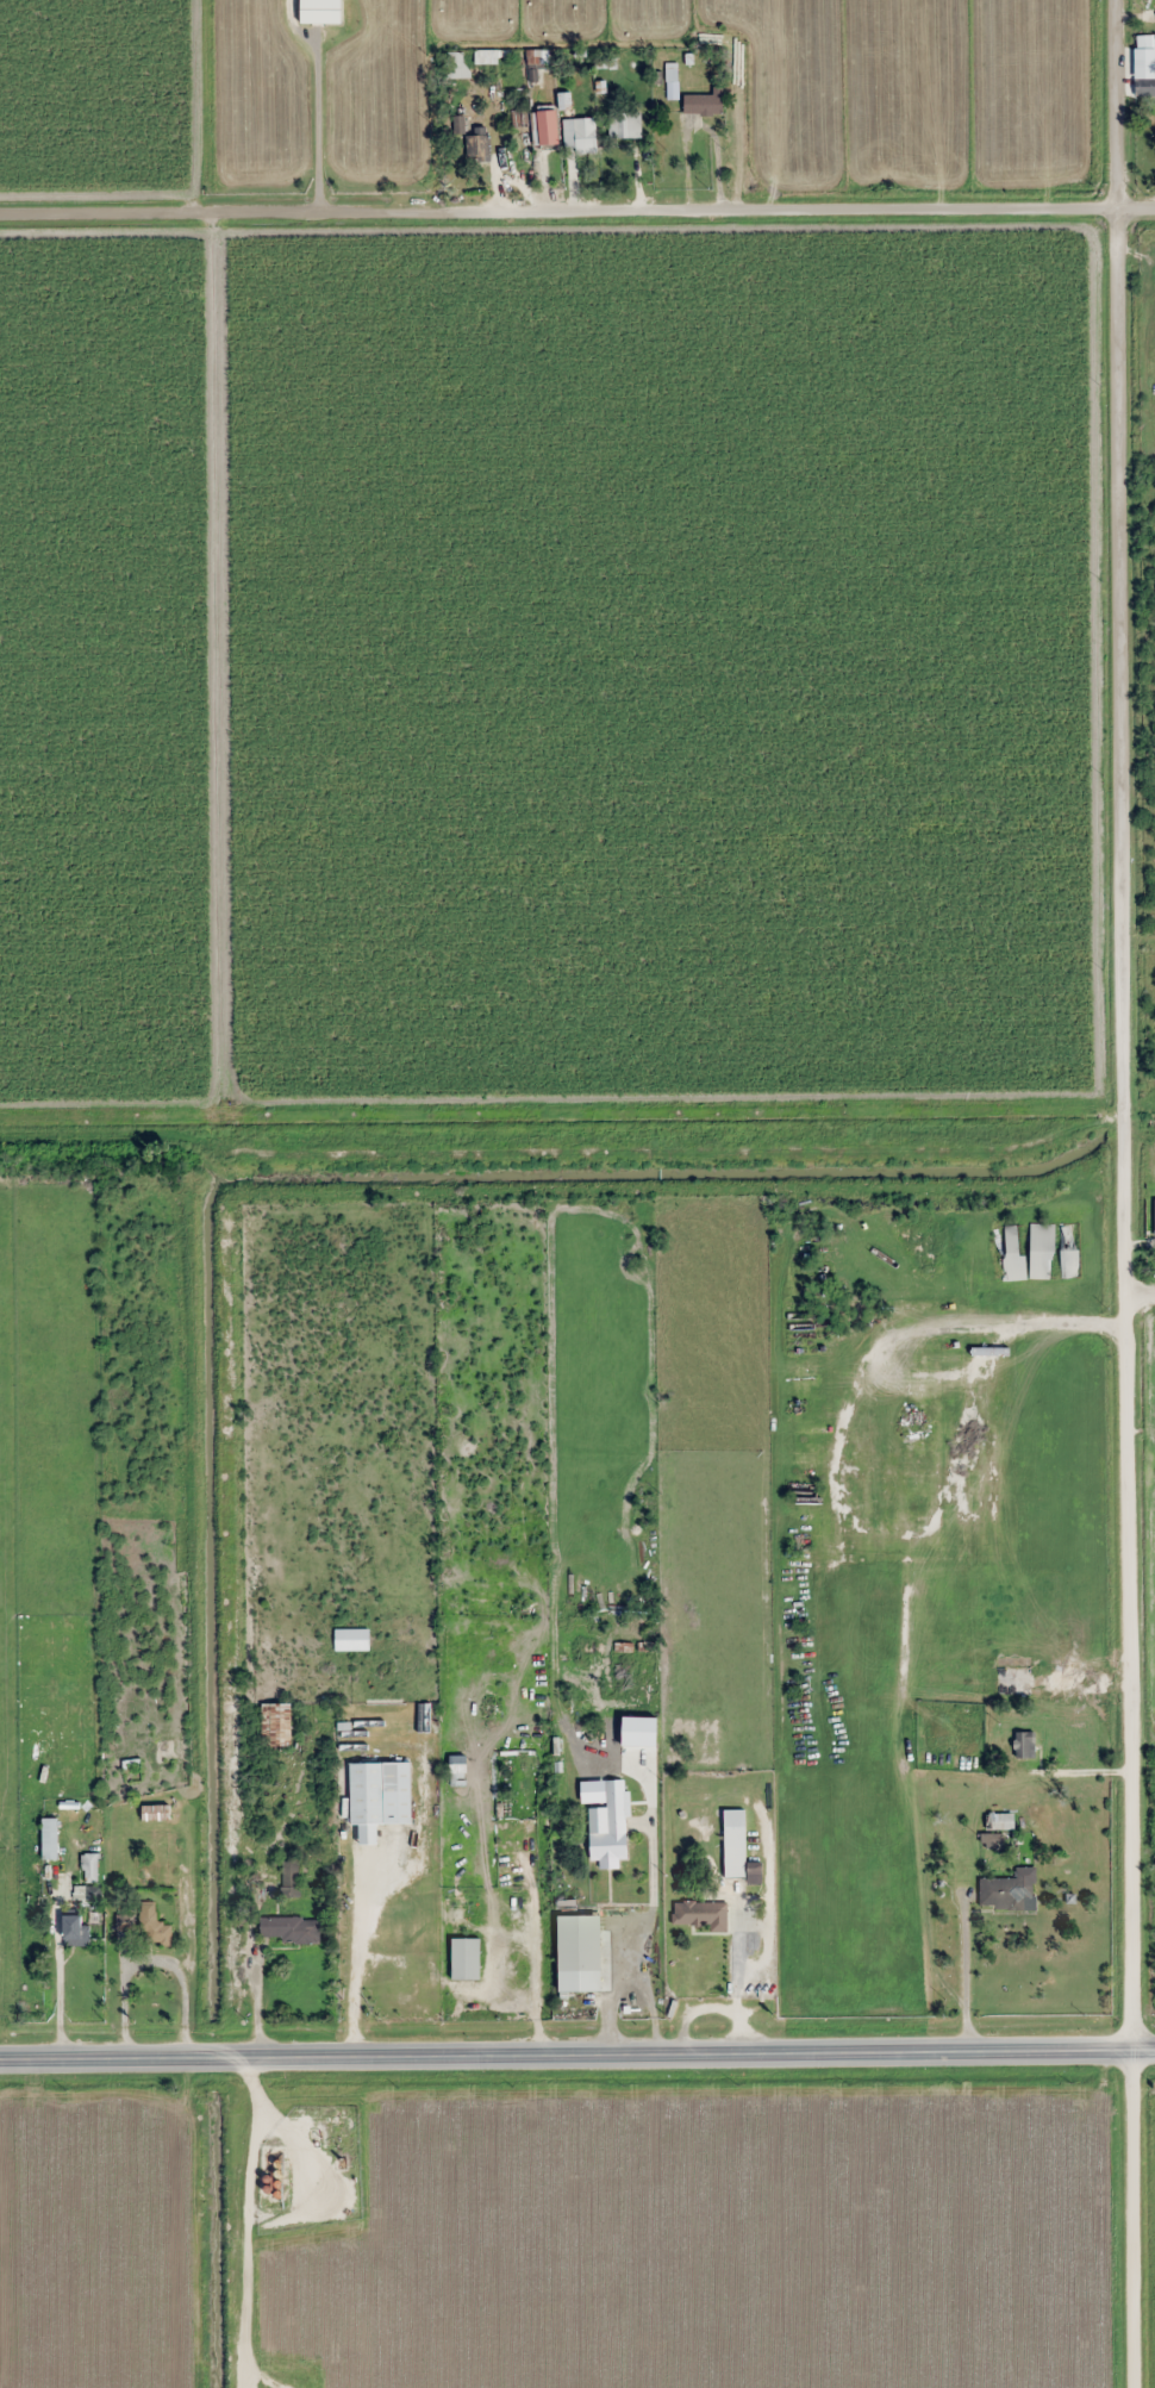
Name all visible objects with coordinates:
building: (489, 56)
building: (537, 63)
building: (455, 66)
building: (1144, 80)
building: (670, 81)
building: (564, 101)
building: (704, 104)
building: (624, 124)
building: (547, 127)
building: (579, 135)
building: (479, 146)
road: (1136, 201)
road: (558, 205)
road: (1122, 646)
building: (1154, 1215)
building: (1069, 1249)
building: (1042, 1251)
building: (1010, 1252)
road: (1141, 1292)
building: (351, 1639)
road: (1132, 1671)
building: (1013, 1681)
building: (276, 1725)
building: (638, 1731)
building: (1024, 1745)
building: (457, 1764)
building: (367, 1794)
building: (155, 1813)
building: (999, 1822)
building: (608, 1829)
building: (50, 1839)
building: (739, 1853)
building: (87, 1878)
building: (289, 1884)
building: (1009, 1891)
building: (699, 1914)
building: (124, 1922)
building: (154, 1926)
building: (289, 1929)
building: (75, 1931)
building: (579, 1953)
building: (466, 1958)
road: (1143, 2049)
road: (566, 2053)
road: (1134, 2219)

